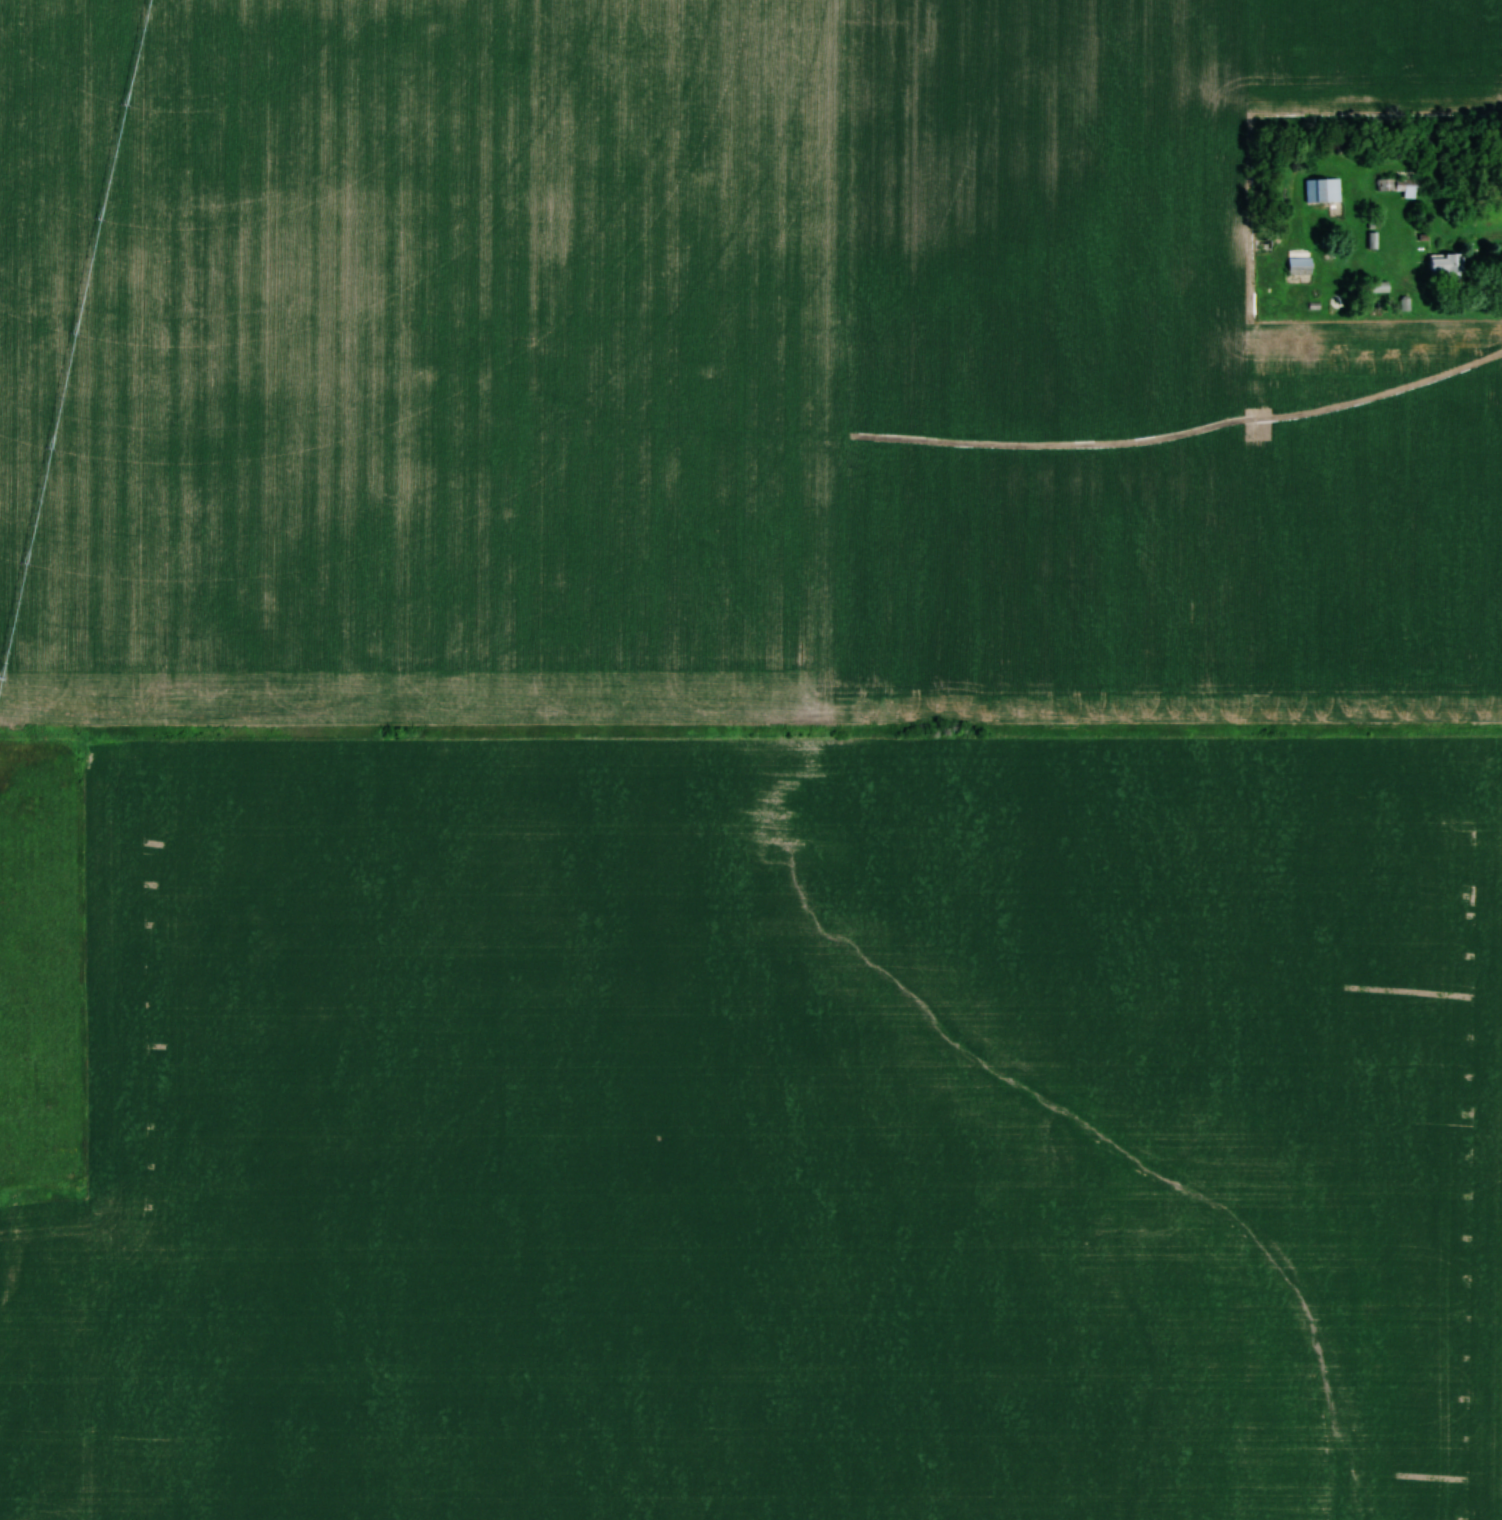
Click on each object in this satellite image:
building: (1325, 188)
building: (1413, 188)
building: (1448, 263)

